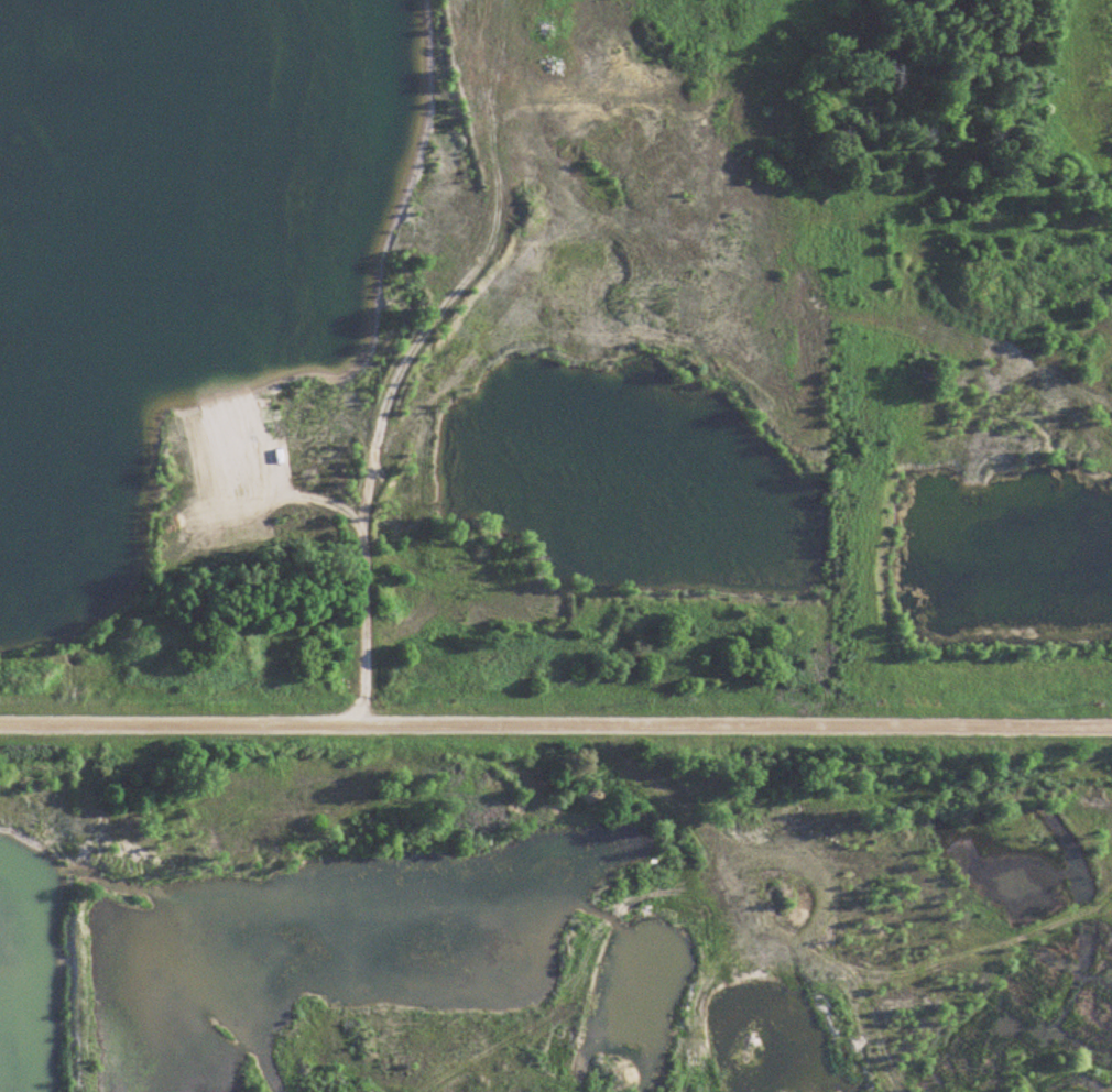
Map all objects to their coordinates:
road: (556, 731)

